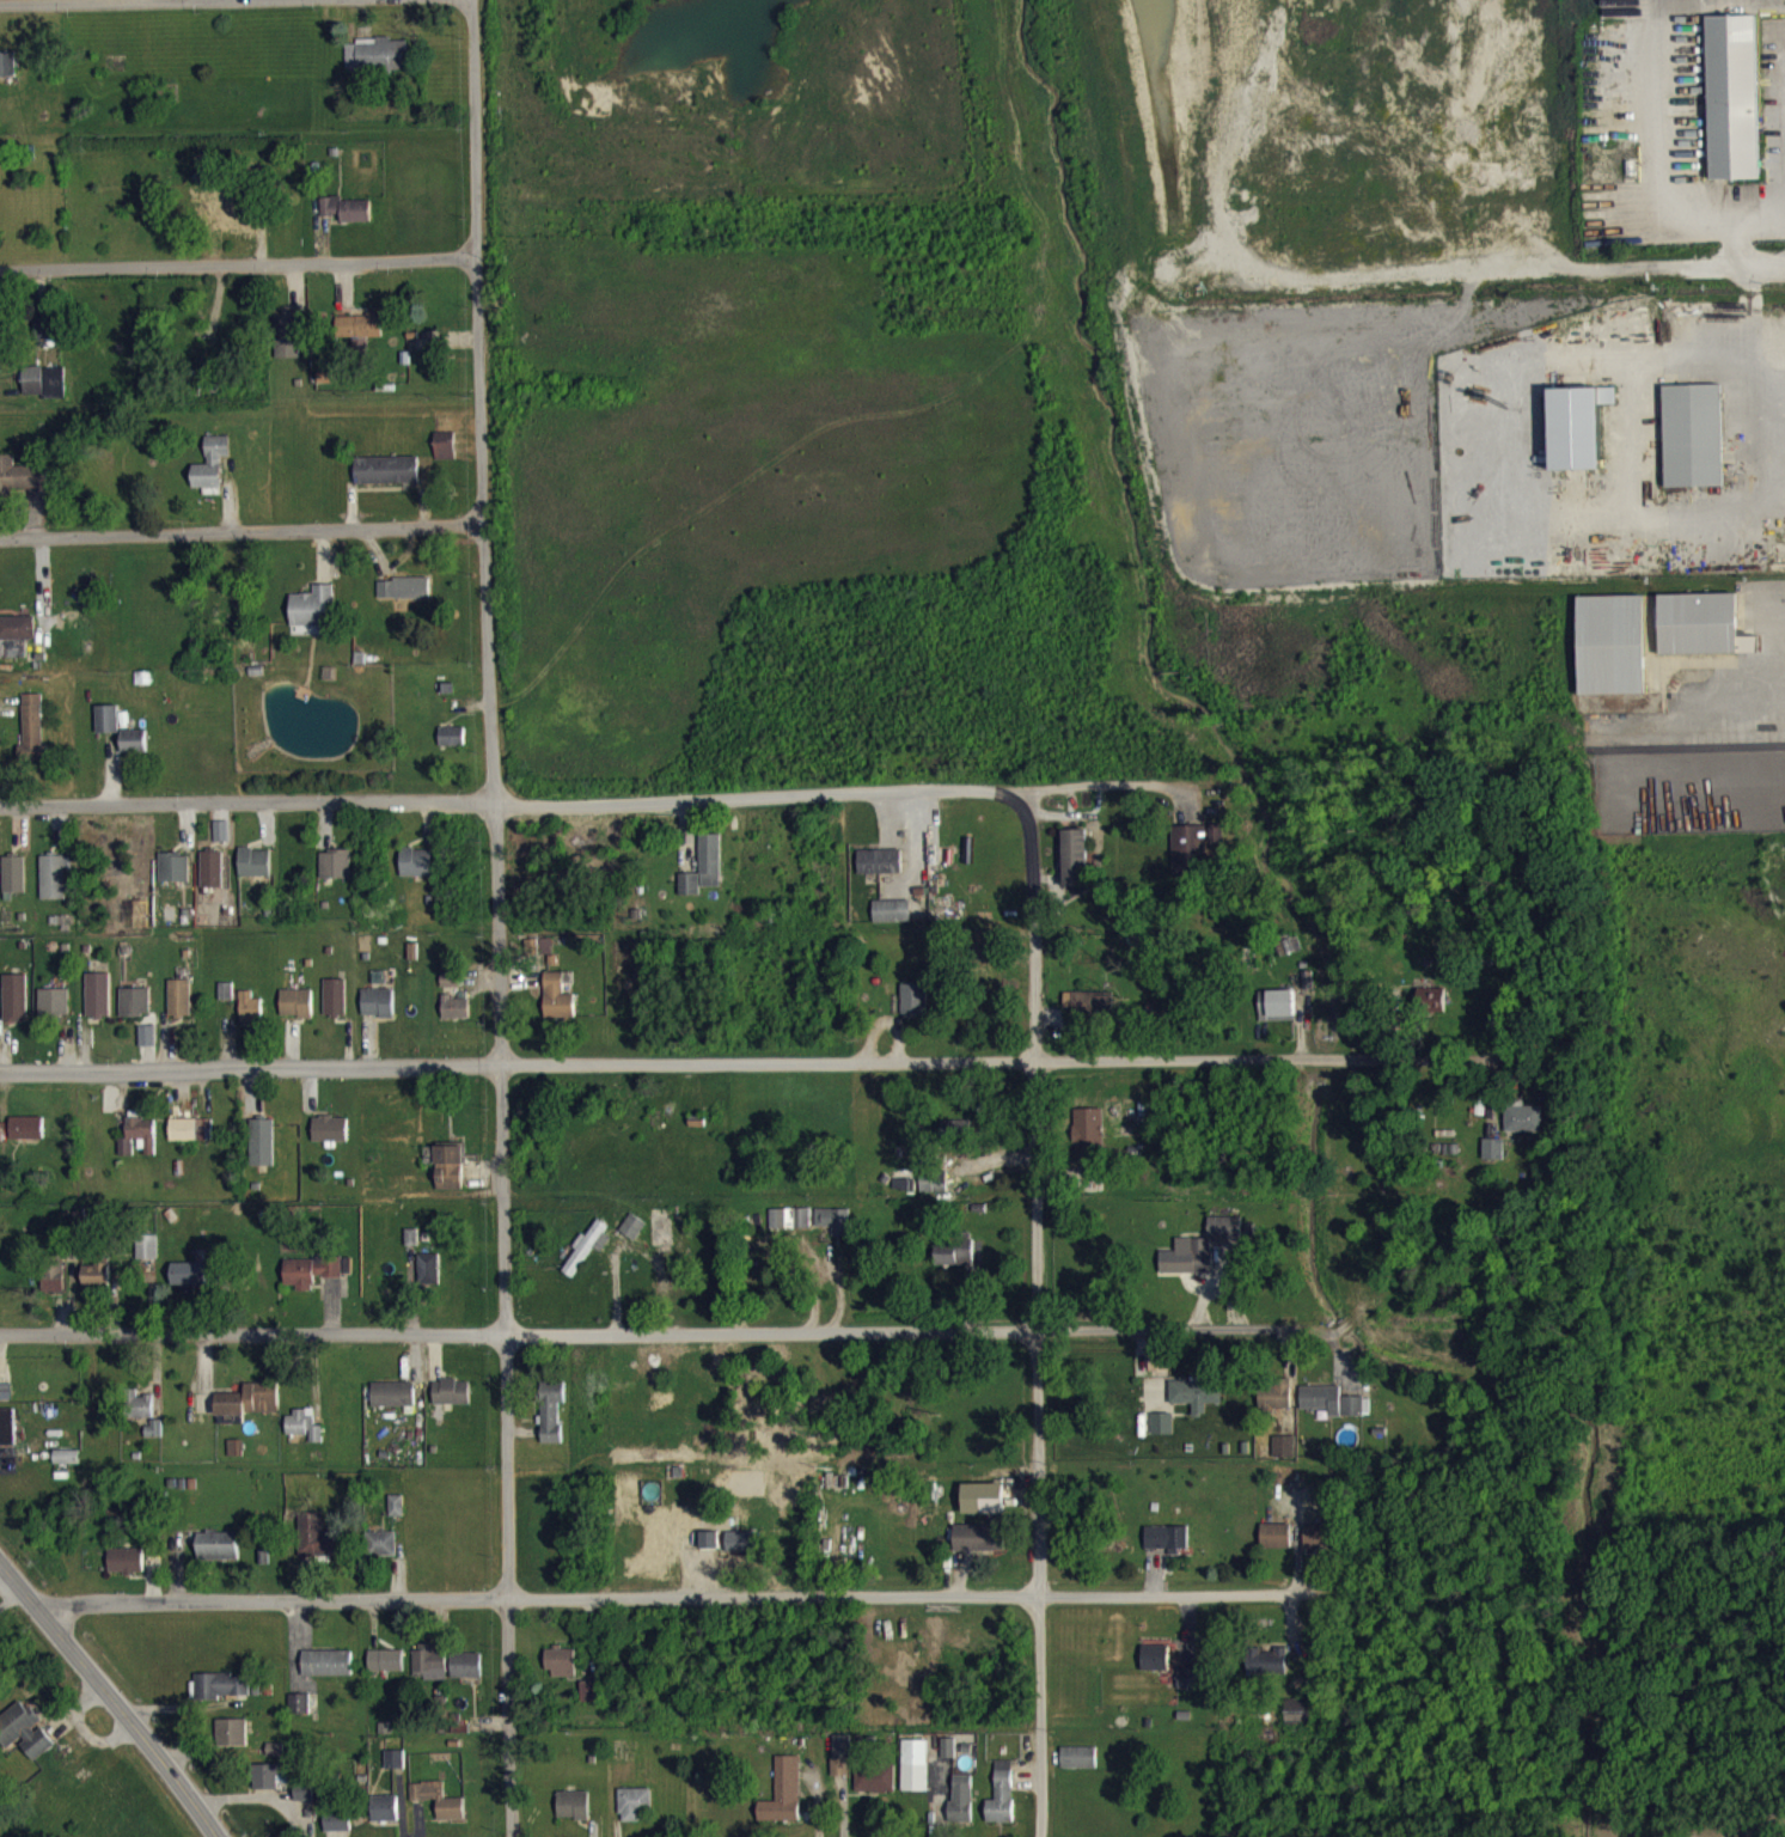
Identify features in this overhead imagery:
road: (63, 1)
building: (378, 66)
building: (7, 75)
building: (1734, 108)
building: (330, 216)
building: (356, 221)
building: (242, 222)
road: (238, 262)
road: (1683, 266)
building: (361, 336)
road: (1753, 337)
building: (48, 343)
building: (286, 343)
building: (427, 352)
building: (328, 387)
building: (44, 392)
building: (1578, 438)
road: (1779, 445)
building: (1694, 446)
building: (445, 456)
building: (212, 472)
building: (387, 481)
building: (20, 486)
road: (240, 530)
building: (405, 599)
building: (313, 622)
building: (1703, 636)
building: (17, 639)
road: (1771, 696)
building: (108, 730)
building: (33, 733)
building: (453, 747)
building: (135, 752)
road: (1094, 783)
road: (509, 802)
building: (222, 842)
building: (1190, 861)
building: (1076, 868)
building: (710, 871)
building: (880, 872)
building: (257, 873)
building: (417, 873)
building: (336, 875)
building: (173, 878)
building: (213, 880)
building: (14, 885)
building: (54, 889)
building: (690, 895)
road: (496, 917)
building: (892, 922)
building: (1289, 957)
building: (450, 990)
building: (227, 1001)
building: (99, 1006)
building: (17, 1008)
building: (181, 1008)
building: (335, 1008)
building: (557, 1008)
building: (915, 1009)
building: (1431, 1011)
building: (55, 1012)
building: (136, 1013)
building: (378, 1013)
building: (297, 1014)
building: (1090, 1014)
building: (250, 1017)
building: (1279, 1017)
building: (456, 1018)
road: (747, 1060)
building: (1524, 1129)
building: (26, 1139)
building: (190, 1140)
building: (330, 1140)
building: (955, 1141)
building: (139, 1147)
building: (1090, 1152)
building: (262, 1153)
building: (1493, 1160)
building: (447, 1176)
building: (934, 1192)
building: (790, 1229)
building: (833, 1232)
building: (634, 1237)
building: (1224, 1238)
building: (411, 1247)
building: (603, 1252)
building: (147, 1258)
building: (586, 1258)
building: (953, 1262)
building: (1188, 1268)
building: (428, 1280)
building: (310, 1282)
building: (194, 1283)
building: (96, 1286)
building: (54, 1288)
road: (1035, 1317)
road: (667, 1331)
building: (1159, 1374)
building: (452, 1403)
building: (1197, 1404)
building: (393, 1405)
building: (1276, 1405)
building: (249, 1411)
building: (1331, 1411)
building: (141, 1417)
building: (551, 1422)
building: (1162, 1434)
building: (304, 1435)
building: (7, 1438)
building: (153, 1440)
building: (236, 1458)
building: (67, 1467)
building: (984, 1509)
building: (396, 1516)
building: (1276, 1546)
building: (1320, 1546)
building: (318, 1548)
building: (710, 1548)
building: (979, 1549)
building: (1167, 1550)
building: (740, 1554)
building: (380, 1555)
building: (219, 1557)
building: (126, 1571)
road: (705, 1595)
building: (386, 1671)
building: (429, 1672)
building: (1267, 1672)
building: (328, 1673)
building: (562, 1673)
building: (467, 1676)
building: (1187, 1689)
building: (221, 1696)
road: (108, 1697)
building: (591, 1702)
building: (299, 1714)
building: (25, 1740)
building: (232, 1743)
building: (276, 1759)
building: (840, 1766)
building: (396, 1770)
building: (915, 1776)
building: (267, 1787)
building: (875, 1789)
building: (305, 1801)
building: (783, 1804)
building: (1002, 1805)
building: (439, 1811)
building: (961, 1811)
building: (635, 1814)
building: (573, 1815)
building: (385, 1819)
building: (338, 1830)

